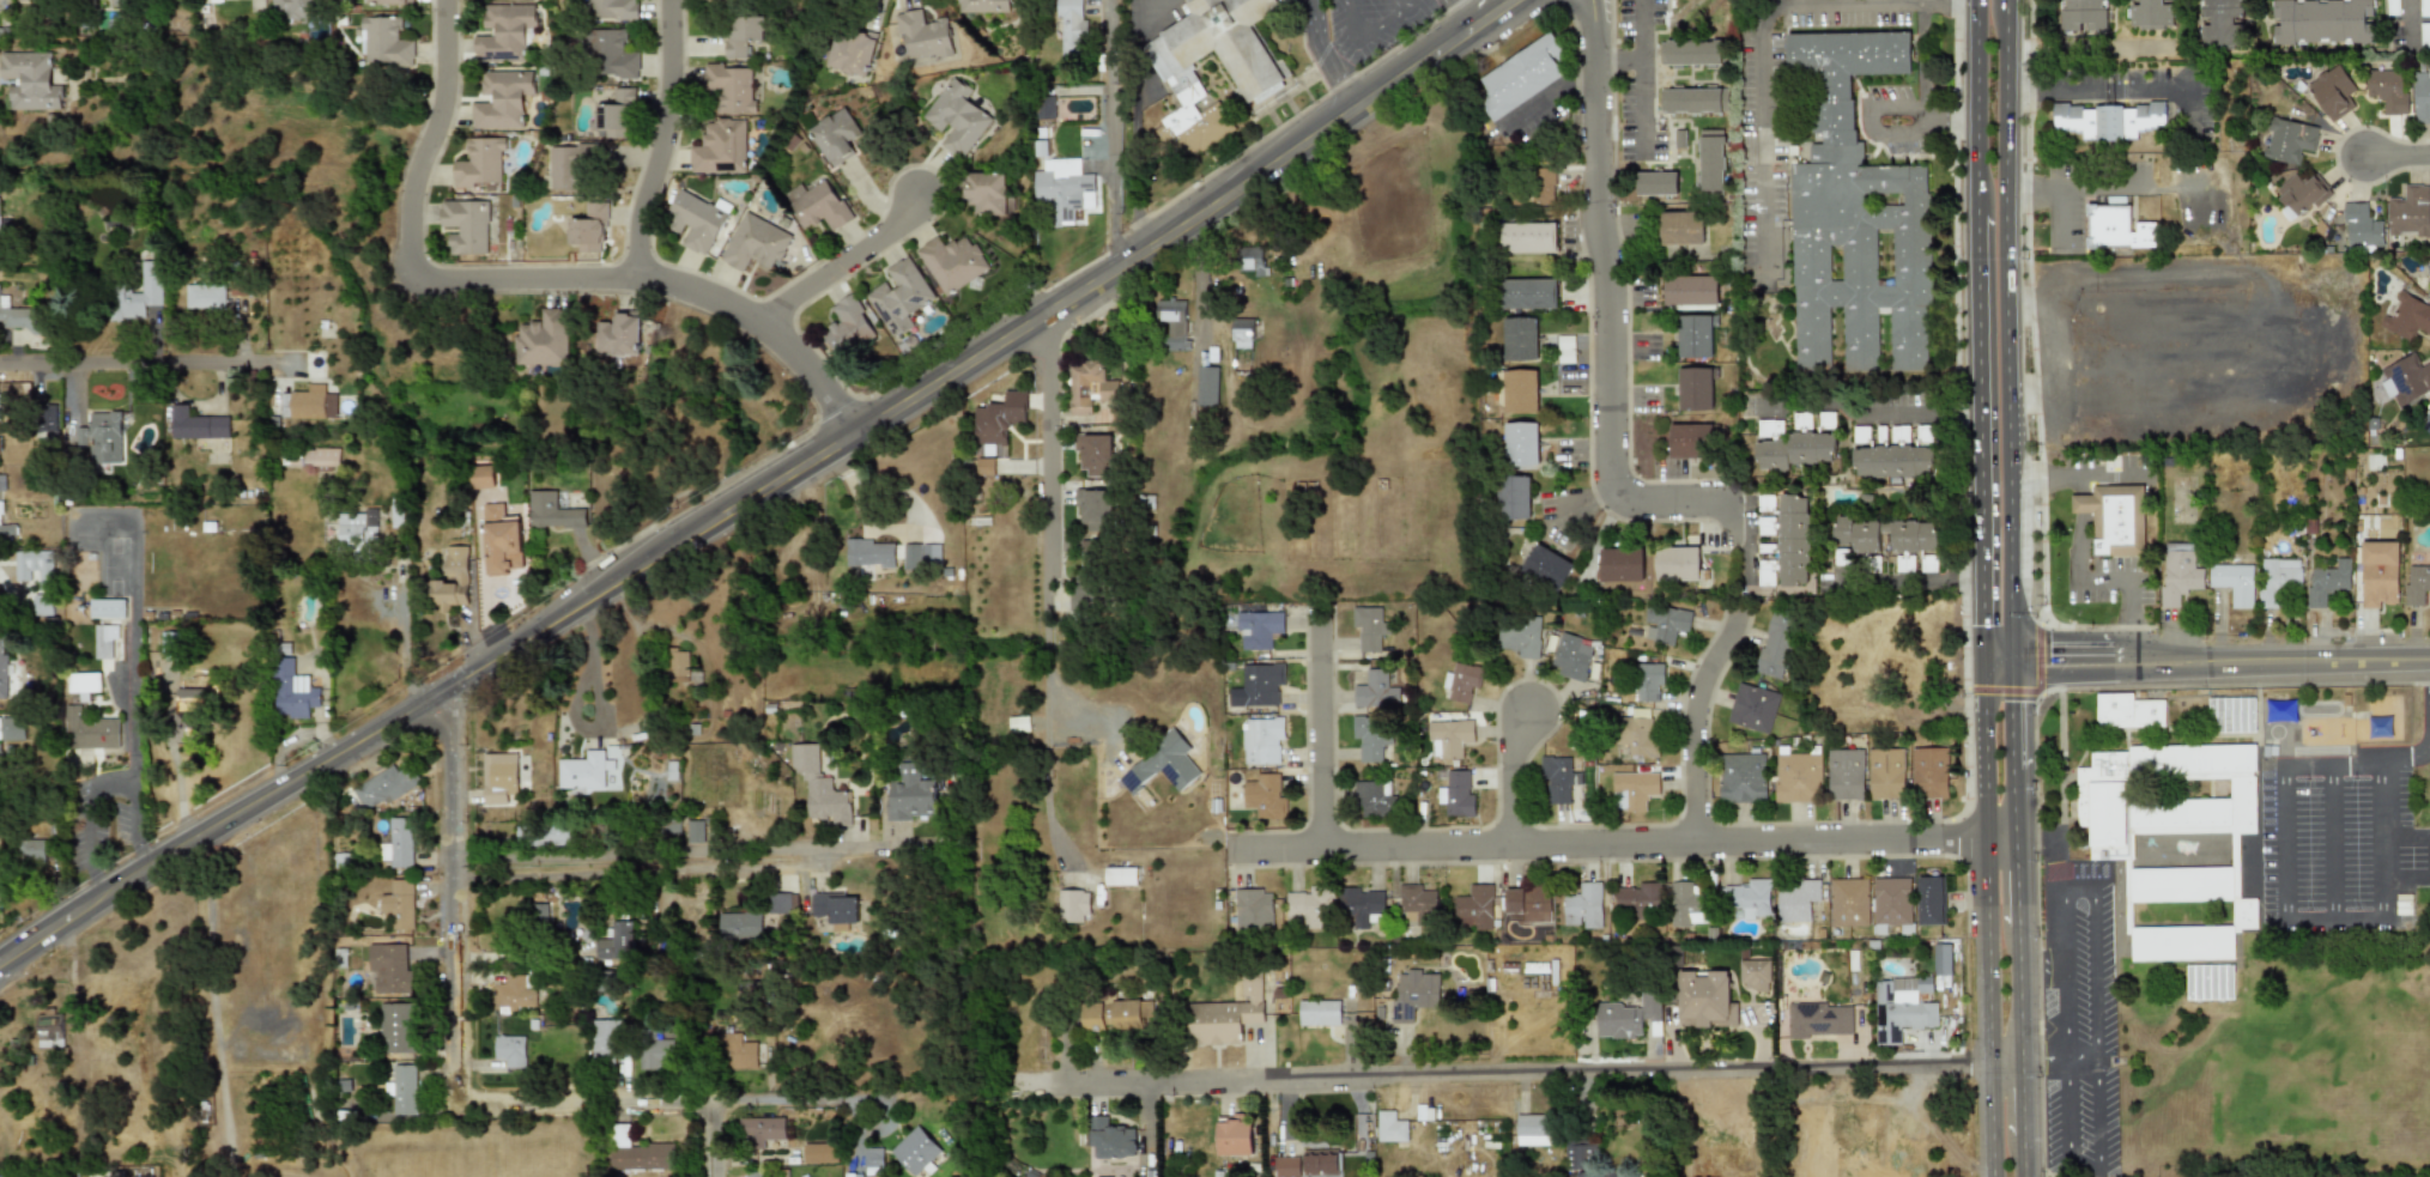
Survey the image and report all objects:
building: (390, 1)
building: (984, 6)
building: (293, 10)
building: (612, 10)
road: (1398, 12)
road: (1461, 13)
building: (2152, 13)
building: (2081, 14)
building: (2321, 20)
road: (2406, 23)
building: (1069, 25)
building: (2223, 28)
road: (1642, 29)
building: (504, 32)
road: (1363, 34)
building: (743, 35)
building: (922, 36)
building: (383, 41)
road: (1758, 42)
road: (2085, 49)
building: (853, 53)
building: (1690, 53)
building: (612, 54)
road: (1326, 55)
building: (1258, 73)
building: (1522, 75)
building: (30, 80)
road: (1642, 83)
road: (2052, 86)
building: (731, 87)
road: (1919, 89)
building: (2387, 90)
building: (2331, 93)
building: (2422, 97)
building: (502, 98)
building: (1693, 101)
road: (1976, 105)
building: (617, 114)
building: (957, 117)
road: (1870, 119)
building: (2107, 123)
road: (1117, 134)
building: (836, 136)
building: (2287, 136)
road: (662, 138)
building: (720, 146)
road: (2398, 152)
building: (480, 163)
building: (1711, 164)
building: (566, 166)
building: (1656, 183)
road: (2134, 186)
building: (1066, 187)
building: (1537, 188)
road: (2059, 188)
building: (987, 192)
building: (2302, 192)
building: (819, 206)
building: (2408, 210)
building: (1856, 217)
building: (697, 220)
building: (2337, 222)
building: (466, 225)
building: (2361, 225)
building: (2115, 226)
building: (588, 229)
building: (1681, 229)
building: (1528, 237)
building: (756, 243)
building: (2327, 248)
building: (1253, 259)
road: (844, 260)
building: (952, 262)
building: (2428, 267)
road: (525, 275)
road: (1200, 291)
building: (1692, 292)
building: (138, 293)
building: (1529, 293)
building: (205, 296)
building: (901, 297)
road: (1608, 304)
building: (2408, 315)
building: (20, 317)
building: (1174, 321)
building: (848, 327)
road: (2006, 328)
building: (1698, 336)
building: (619, 338)
building: (1521, 339)
building: (543, 340)
building: (1242, 342)
building: (1565, 348)
road: (131, 363)
building: (2406, 378)
building: (1206, 384)
building: (1089, 386)
building: (1698, 389)
building: (13, 390)
building: (1519, 390)
building: (308, 404)
road: (1868, 413)
building: (2428, 415)
building: (996, 418)
building: (48, 419)
building: (2371, 421)
building: (195, 424)
road: (1980, 435)
building: (102, 437)
building: (1692, 441)
building: (1522, 443)
building: (1799, 450)
building: (311, 455)
building: (1096, 455)
building: (1893, 461)
building: (984, 466)
building: (483, 477)
road: (1044, 480)
road: (762, 490)
building: (1515, 497)
building: (1, 500)
building: (1095, 509)
building: (553, 511)
building: (2114, 517)
building: (351, 526)
building: (1859, 535)
building: (501, 539)
building: (1795, 540)
building: (1914, 540)
building: (1092, 547)
building: (871, 553)
building: (913, 554)
building: (1622, 564)
building: (1680, 564)
building: (35, 566)
building: (1547, 566)
building: (2379, 572)
building: (2331, 575)
building: (2182, 577)
building: (452, 580)
building: (2232, 581)
building: (2279, 582)
building: (2416, 583)
building: (1089, 588)
building: (43, 605)
building: (108, 608)
road: (1068, 620)
building: (1662, 625)
building: (1258, 629)
building: (1369, 629)
road: (133, 631)
building: (1521, 635)
building: (107, 641)
building: (1777, 644)
road: (401, 648)
building: (1572, 656)
road: (1996, 659)
road: (2219, 659)
building: (675, 666)
building: (7, 675)
building: (1465, 682)
building: (1650, 682)
building: (84, 684)
building: (1256, 686)
building: (1374, 688)
building: (292, 690)
building: (1753, 706)
building: (2127, 708)
building: (2280, 709)
building: (2231, 712)
road: (2010, 714)
building: (188, 722)
road: (1692, 722)
building: (1018, 724)
building: (2380, 724)
building: (12, 728)
building: (91, 733)
building: (1637, 735)
road: (1322, 736)
building: (1450, 736)
building: (1370, 738)
building: (1264, 741)
road: (1044, 758)
road: (2408, 759)
building: (1159, 765)
building: (587, 770)
building: (1799, 773)
building: (1847, 773)
building: (1887, 773)
building: (1932, 773)
road: (1508, 775)
building: (497, 776)
building: (1558, 777)
building: (1743, 777)
building: (384, 787)
building: (819, 787)
building: (1635, 789)
road: (101, 790)
building: (1458, 793)
building: (911, 794)
building: (1265, 794)
building: (1375, 797)
road: (2012, 802)
building: (693, 831)
building: (546, 833)
road: (2407, 837)
road: (1619, 842)
building: (400, 843)
road: (2331, 843)
building: (2110, 844)
building: (31, 850)
road: (661, 851)
parking lot: (2338, 854)
building: (1120, 876)
road: (2407, 878)
road: (2014, 881)
road: (596, 887)
building: (1638, 896)
building: (1746, 898)
building: (1795, 900)
building: (1929, 900)
building: (781, 902)
building: (1849, 902)
building: (1891, 902)
building: (1361, 903)
building: (399, 904)
building: (1528, 904)
building: (1072, 905)
building: (1417, 905)
building: (1583, 905)
building: (1687, 906)
building: (1308, 908)
building: (1473, 908)
building: (835, 909)
building: (1253, 909)
building: (540, 912)
road: (1988, 917)
road: (2285, 923)
building: (739, 926)
building: (623, 940)
road: (2062, 952)
road: (2092, 955)
building: (1941, 959)
building: (389, 966)
building: (1755, 975)
building: (2208, 979)
building: (515, 991)
building: (1412, 993)
road: (2018, 994)
building: (1704, 999)
road: (213, 1005)
building: (1319, 1012)
building: (1126, 1014)
building: (1090, 1017)
building: (1225, 1017)
building: (1626, 1017)
building: (1817, 1019)
building: (48, 1027)
building: (400, 1030)
building: (509, 1050)
building: (655, 1052)
building: (741, 1052)
road: (456, 1055)
road: (1535, 1073)
building: (402, 1090)
road: (816, 1097)
road: (2022, 1098)
building: (1389, 1127)
building: (1534, 1129)
building: (762, 1132)
building: (1109, 1139)
building: (914, 1149)
building: (819, 1153)
road: (2023, 1155)
building: (642, 1157)
building: (1582, 1158)
building: (872, 1160)
building: (1308, 1163)
road: (2096, 1167)
building: (756, 1173)

